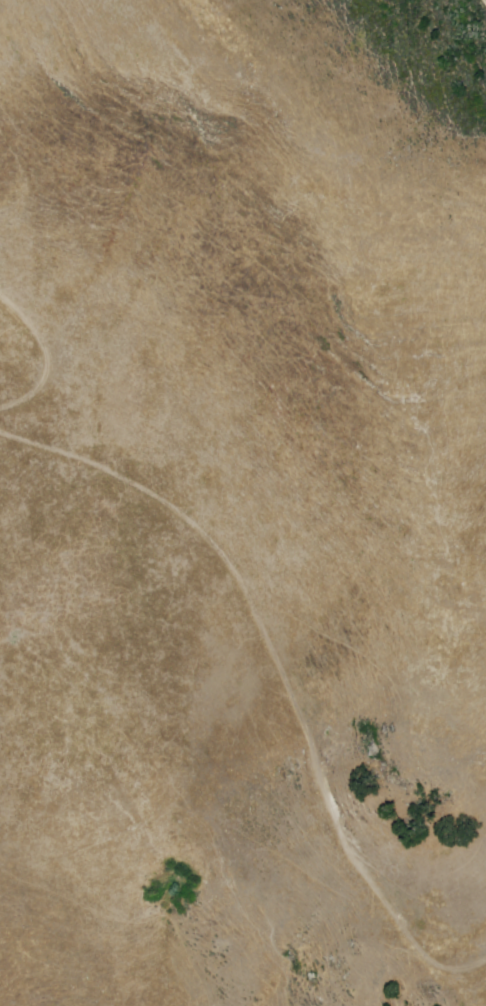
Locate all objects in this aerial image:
road: (483, 3)
road: (45, 353)
road: (275, 675)

